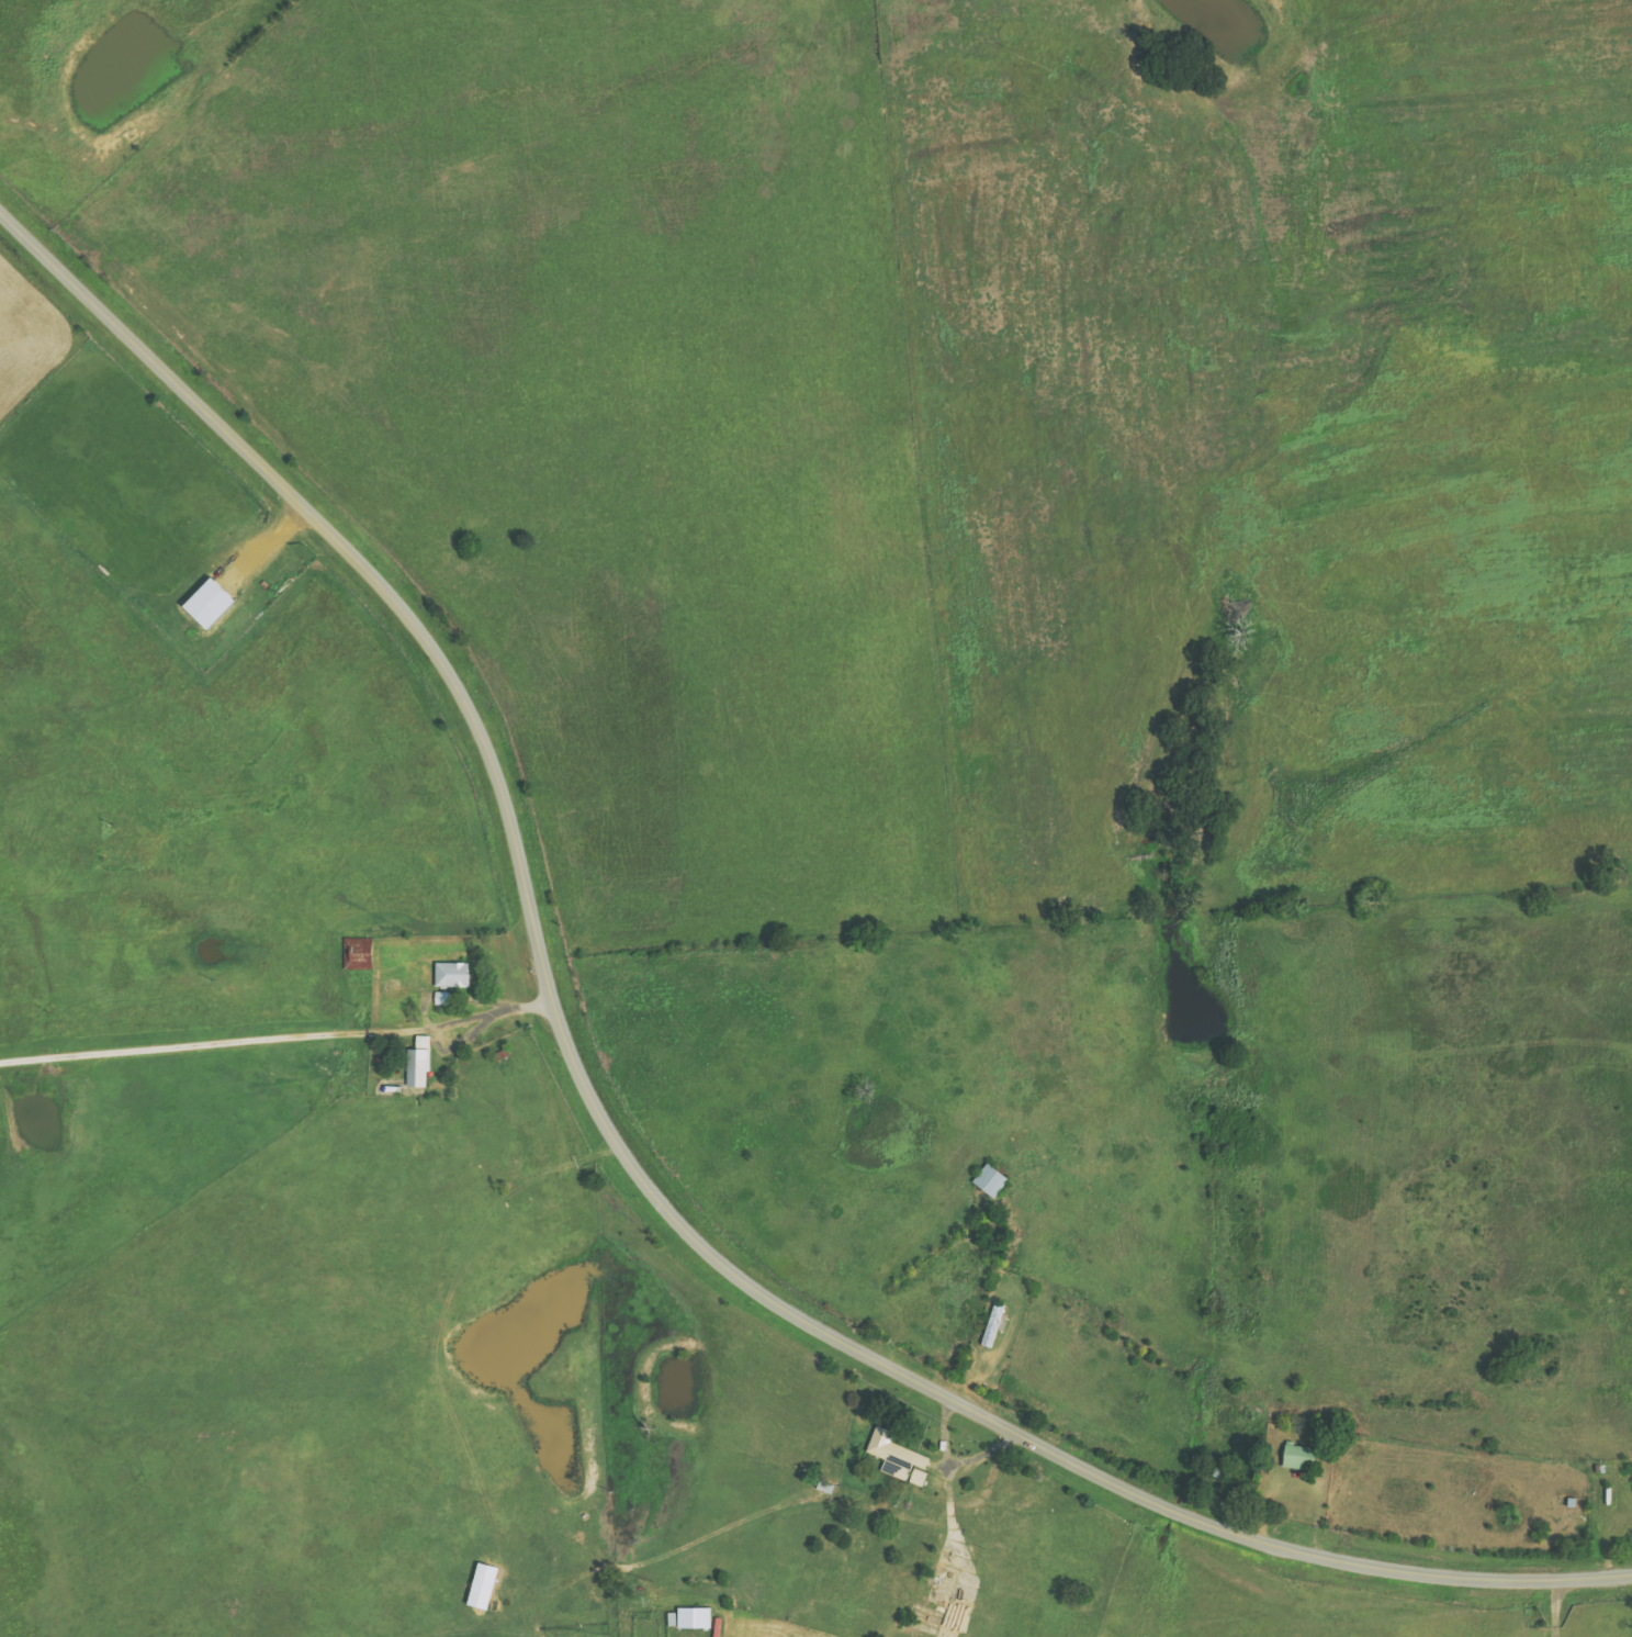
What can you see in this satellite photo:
road: (833, 481)
building: (206, 603)
building: (451, 975)
building: (417, 1063)
road: (616, 1143)
building: (989, 1180)
building: (893, 1455)
building: (1297, 1457)
road: (739, 1510)
building: (481, 1586)
building: (693, 1618)

